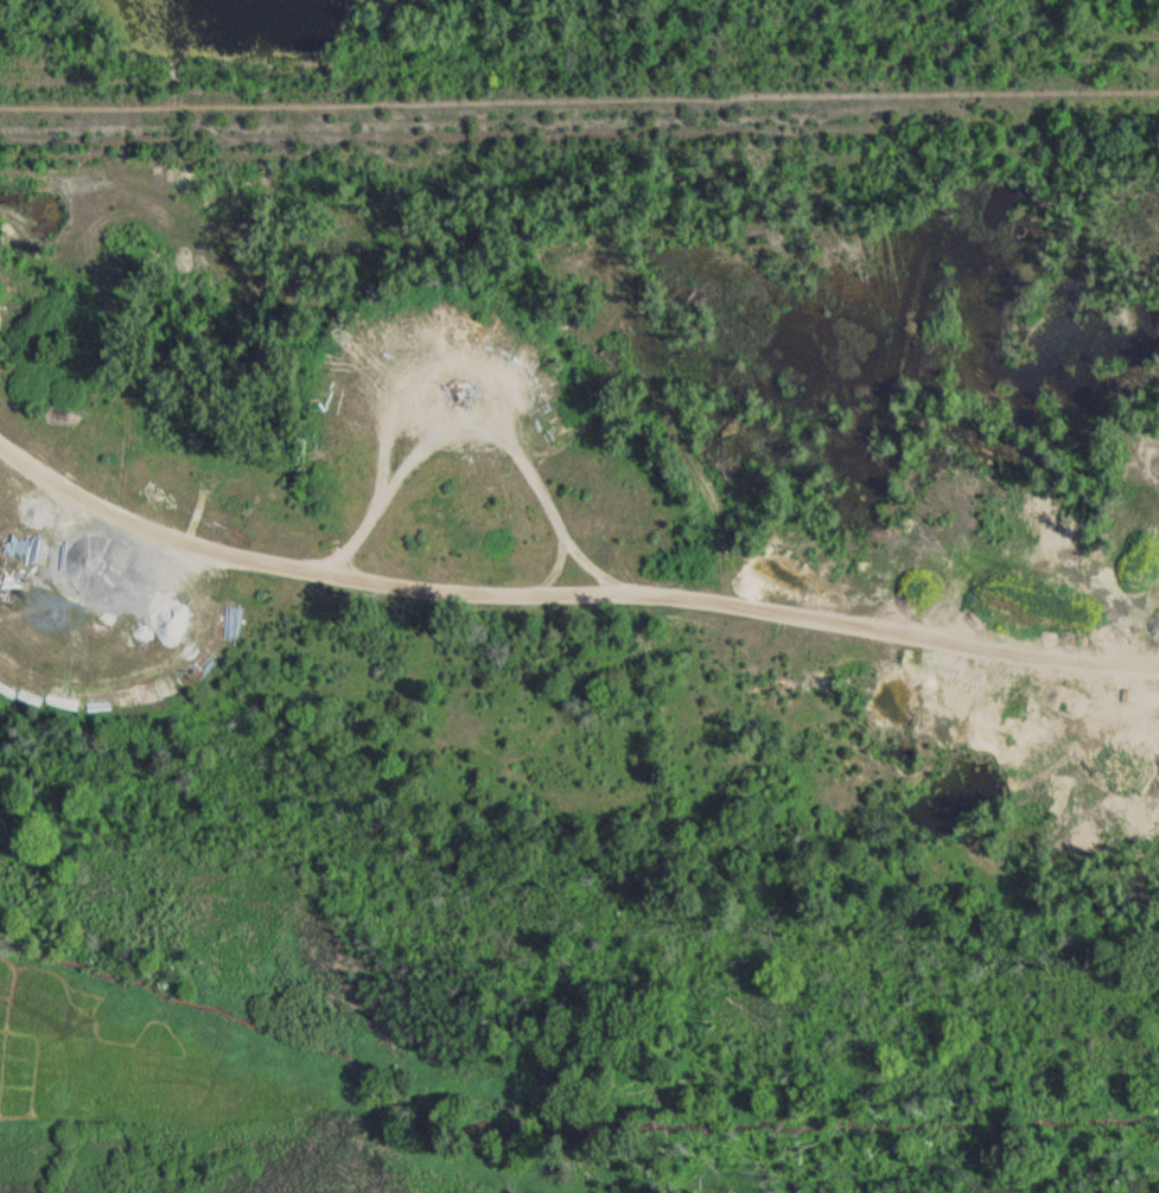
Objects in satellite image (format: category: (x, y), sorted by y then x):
road: (579, 106)

